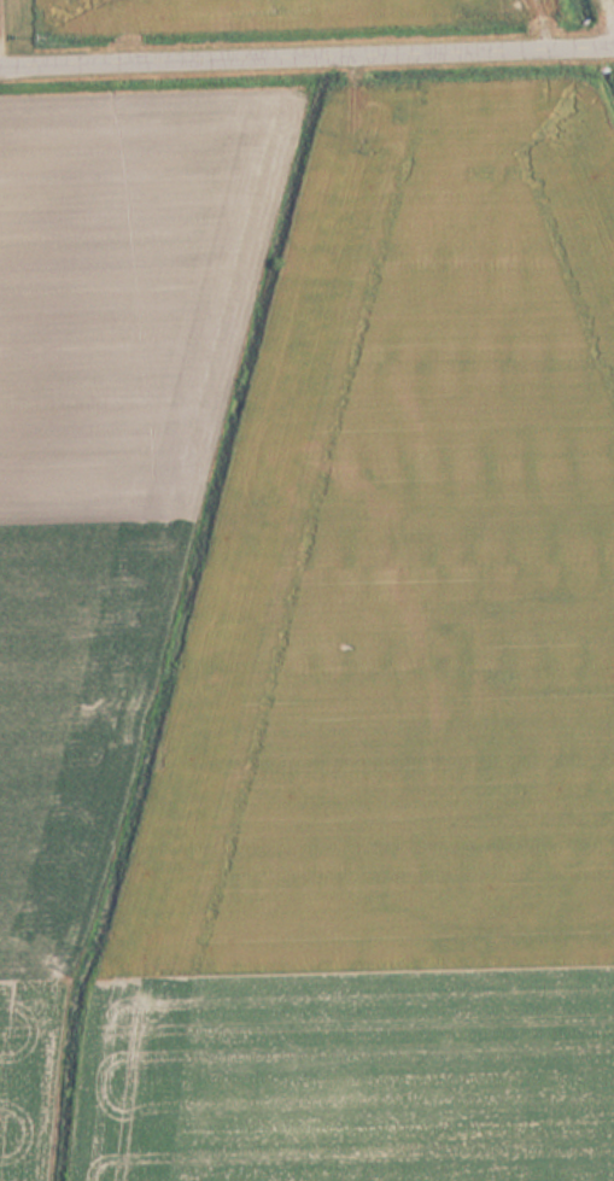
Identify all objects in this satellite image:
road: (306, 55)

